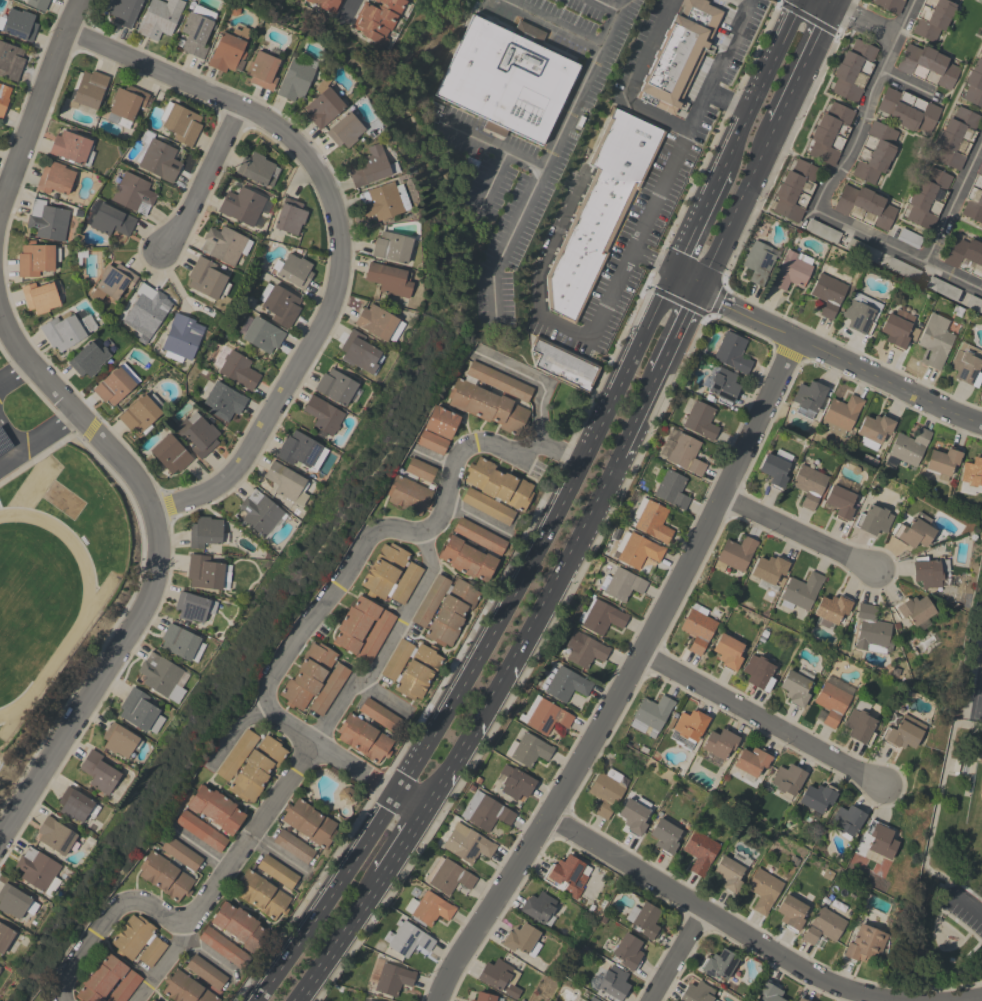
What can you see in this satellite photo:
park: (980, 0)
road: (835, 1)
building: (37, 3)
traffic signals: (835, 3)
building: (327, 4)
building: (888, 4)
road: (607, 5)
building: (123, 11)
road: (348, 14)
road: (862, 17)
road: (905, 17)
building: (158, 18)
building: (932, 18)
building: (376, 19)
building: (18, 23)
road: (551, 23)
building: (196, 30)
parking lot: (637, 48)
building: (230, 50)
road: (889, 52)
building: (678, 54)
building: (10, 60)
road: (807, 62)
building: (927, 65)
building: (262, 69)
building: (853, 70)
building: (295, 78)
building: (506, 78)
road: (635, 79)
road: (911, 84)
building: (974, 84)
road: (760, 86)
building: (88, 91)
building: (3, 97)
road: (729, 100)
road: (39, 102)
building: (126, 104)
building: (323, 107)
building: (908, 110)
building: (180, 122)
building: (345, 130)
building: (830, 133)
building: (956, 137)
road: (492, 143)
road: (682, 144)
building: (71, 147)
building: (874, 152)
road: (548, 156)
building: (156, 157)
building: (371, 166)
building: (256, 168)
building: (56, 179)
road: (493, 179)
road: (203, 183)
road: (713, 186)
parking lot: (659, 188)
building: (794, 190)
building: (133, 192)
building: (974, 197)
building: (927, 198)
building: (383, 200)
road: (954, 202)
road: (740, 203)
building: (243, 206)
building: (864, 206)
building: (599, 209)
road: (827, 215)
building: (289, 217)
building: (108, 218)
building: (47, 220)
building: (822, 231)
road: (337, 232)
road: (689, 235)
building: (909, 237)
building: (224, 244)
building: (391, 246)
building: (86, 247)
building: (862, 249)
building: (965, 256)
building: (36, 258)
building: (759, 261)
building: (901, 269)
building: (293, 270)
traffic signals: (672, 270)
building: (792, 270)
building: (207, 279)
building: (388, 279)
building: (112, 282)
traffic signals: (703, 286)
building: (942, 288)
building: (828, 293)
building: (41, 296)
building: (974, 303)
building: (279, 304)
building: (146, 310)
building: (861, 312)
road: (540, 314)
building: (379, 324)
building: (899, 328)
building: (67, 329)
road: (681, 329)
building: (260, 333)
building: (181, 337)
building: (934, 341)
building: (359, 352)
building: (732, 352)
road: (822, 354)
building: (88, 359)
building: (563, 364)
building: (966, 364)
building: (235, 367)
road: (14, 371)
road: (534, 382)
building: (115, 384)
building: (721, 384)
building: (336, 387)
building: (491, 397)
building: (709, 398)
building: (808, 398)
building: (221, 400)
road: (74, 412)
building: (141, 413)
building: (841, 413)
building: (323, 415)
road: (638, 416)
building: (697, 418)
building: (441, 421)
building: (873, 430)
road: (1, 431)
building: (197, 434)
road: (37, 441)
building: (433, 441)
building: (906, 449)
building: (300, 450)
parking lot: (3, 451)
building: (680, 451)
building: (170, 453)
road: (15, 456)
building: (942, 461)
building: (775, 468)
building: (420, 469)
building: (971, 476)
building: (286, 482)
building: (498, 483)
building: (808, 484)
building: (670, 487)
building: (408, 494)
building: (840, 497)
building: (487, 505)
building: (261, 513)
road: (475, 519)
building: (651, 519)
building: (873, 519)
building: (205, 531)
building: (914, 531)
road: (797, 534)
building: (479, 535)
road: (378, 536)
road: (544, 537)
building: (636, 549)
building: (734, 554)
building: (467, 559)
road: (565, 565)
building: (206, 571)
building: (768, 571)
building: (930, 572)
building: (390, 574)
building: (621, 584)
building: (800, 590)
building: (430, 600)
track: (36, 606)
building: (193, 606)
building: (831, 609)
building: (914, 610)
building: (451, 613)
building: (600, 616)
building: (355, 623)
building: (697, 629)
building: (872, 630)
building: (375, 635)
building: (181, 642)
road: (388, 646)
building: (582, 649)
building: (728, 651)
building: (396, 659)
building: (417, 671)
building: (758, 672)
building: (307, 675)
building: (163, 676)
road: (627, 677)
road: (99, 682)
building: (562, 682)
building: (796, 686)
building: (328, 689)
road: (384, 700)
building: (832, 700)
park: (979, 700)
building: (140, 711)
building: (650, 713)
building: (378, 714)
building: (544, 715)
building: (891, 720)
road: (763, 721)
building: (859, 722)
building: (689, 727)
building: (903, 732)
road: (238, 733)
building: (363, 737)
building: (120, 740)
road: (468, 740)
building: (718, 745)
building: (527, 749)
building: (236, 754)
building: (751, 762)
building: (256, 768)
building: (101, 774)
building: (787, 780)
building: (513, 782)
building: (607, 791)
building: (345, 794)
park: (981, 794)
building: (815, 799)
road: (412, 802)
building: (76, 804)
building: (216, 808)
building: (484, 811)
building: (634, 814)
road: (935, 817)
building: (847, 819)
building: (309, 822)
building: (200, 830)
building: (664, 836)
building: (56, 837)
road: (405, 841)
building: (879, 841)
building: (466, 843)
building: (293, 846)
road: (199, 849)
building: (699, 851)
road: (279, 857)
building: (170, 868)
building: (38, 870)
road: (227, 870)
building: (730, 871)
park: (953, 871)
building: (447, 875)
building: (567, 875)
building: (266, 887)
building: (764, 888)
road: (328, 899)
building: (15, 901)
building: (538, 907)
road: (966, 907)
building: (428, 908)
parking lot: (962, 909)
building: (791, 911)
road: (943, 913)
road: (710, 915)
road: (939, 917)
building: (643, 919)
building: (823, 925)
building: (239, 926)
building: (5, 936)
building: (131, 936)
road: (339, 937)
road: (968, 937)
building: (407, 938)
building: (521, 939)
building: (864, 944)
building: (224, 947)
building: (627, 950)
road: (976, 950)
building: (152, 951)
road: (677, 956)
road: (207, 957)
building: (719, 963)
road: (166, 964)
building: (205, 971)
building: (389, 977)
building: (499, 977)
building: (107, 981)
building: (613, 983)
building: (185, 988)
building: (697, 992)
building: (769, 992)
building: (485, 997)
building: (592, 998)
building: (800, 999)
building: (152, 1000)
building: (363, 1000)
building: (581, 1000)

